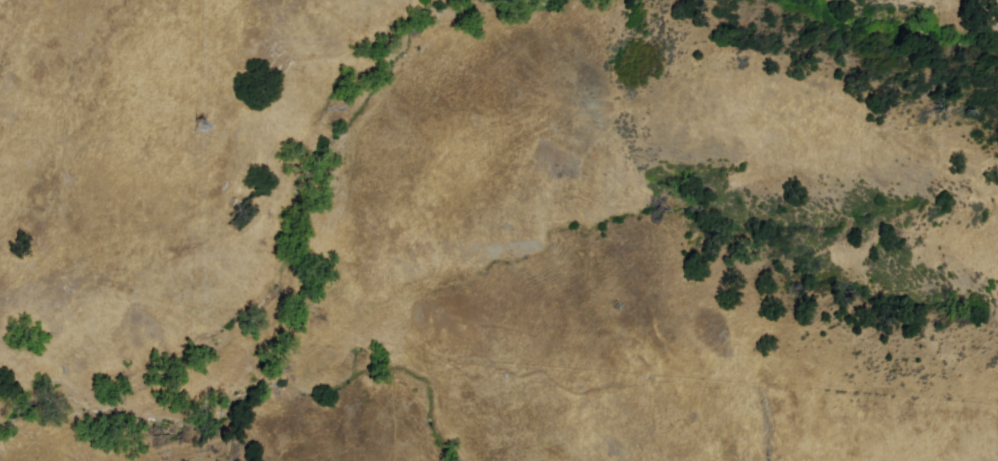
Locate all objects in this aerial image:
power tower: (204, 144)

